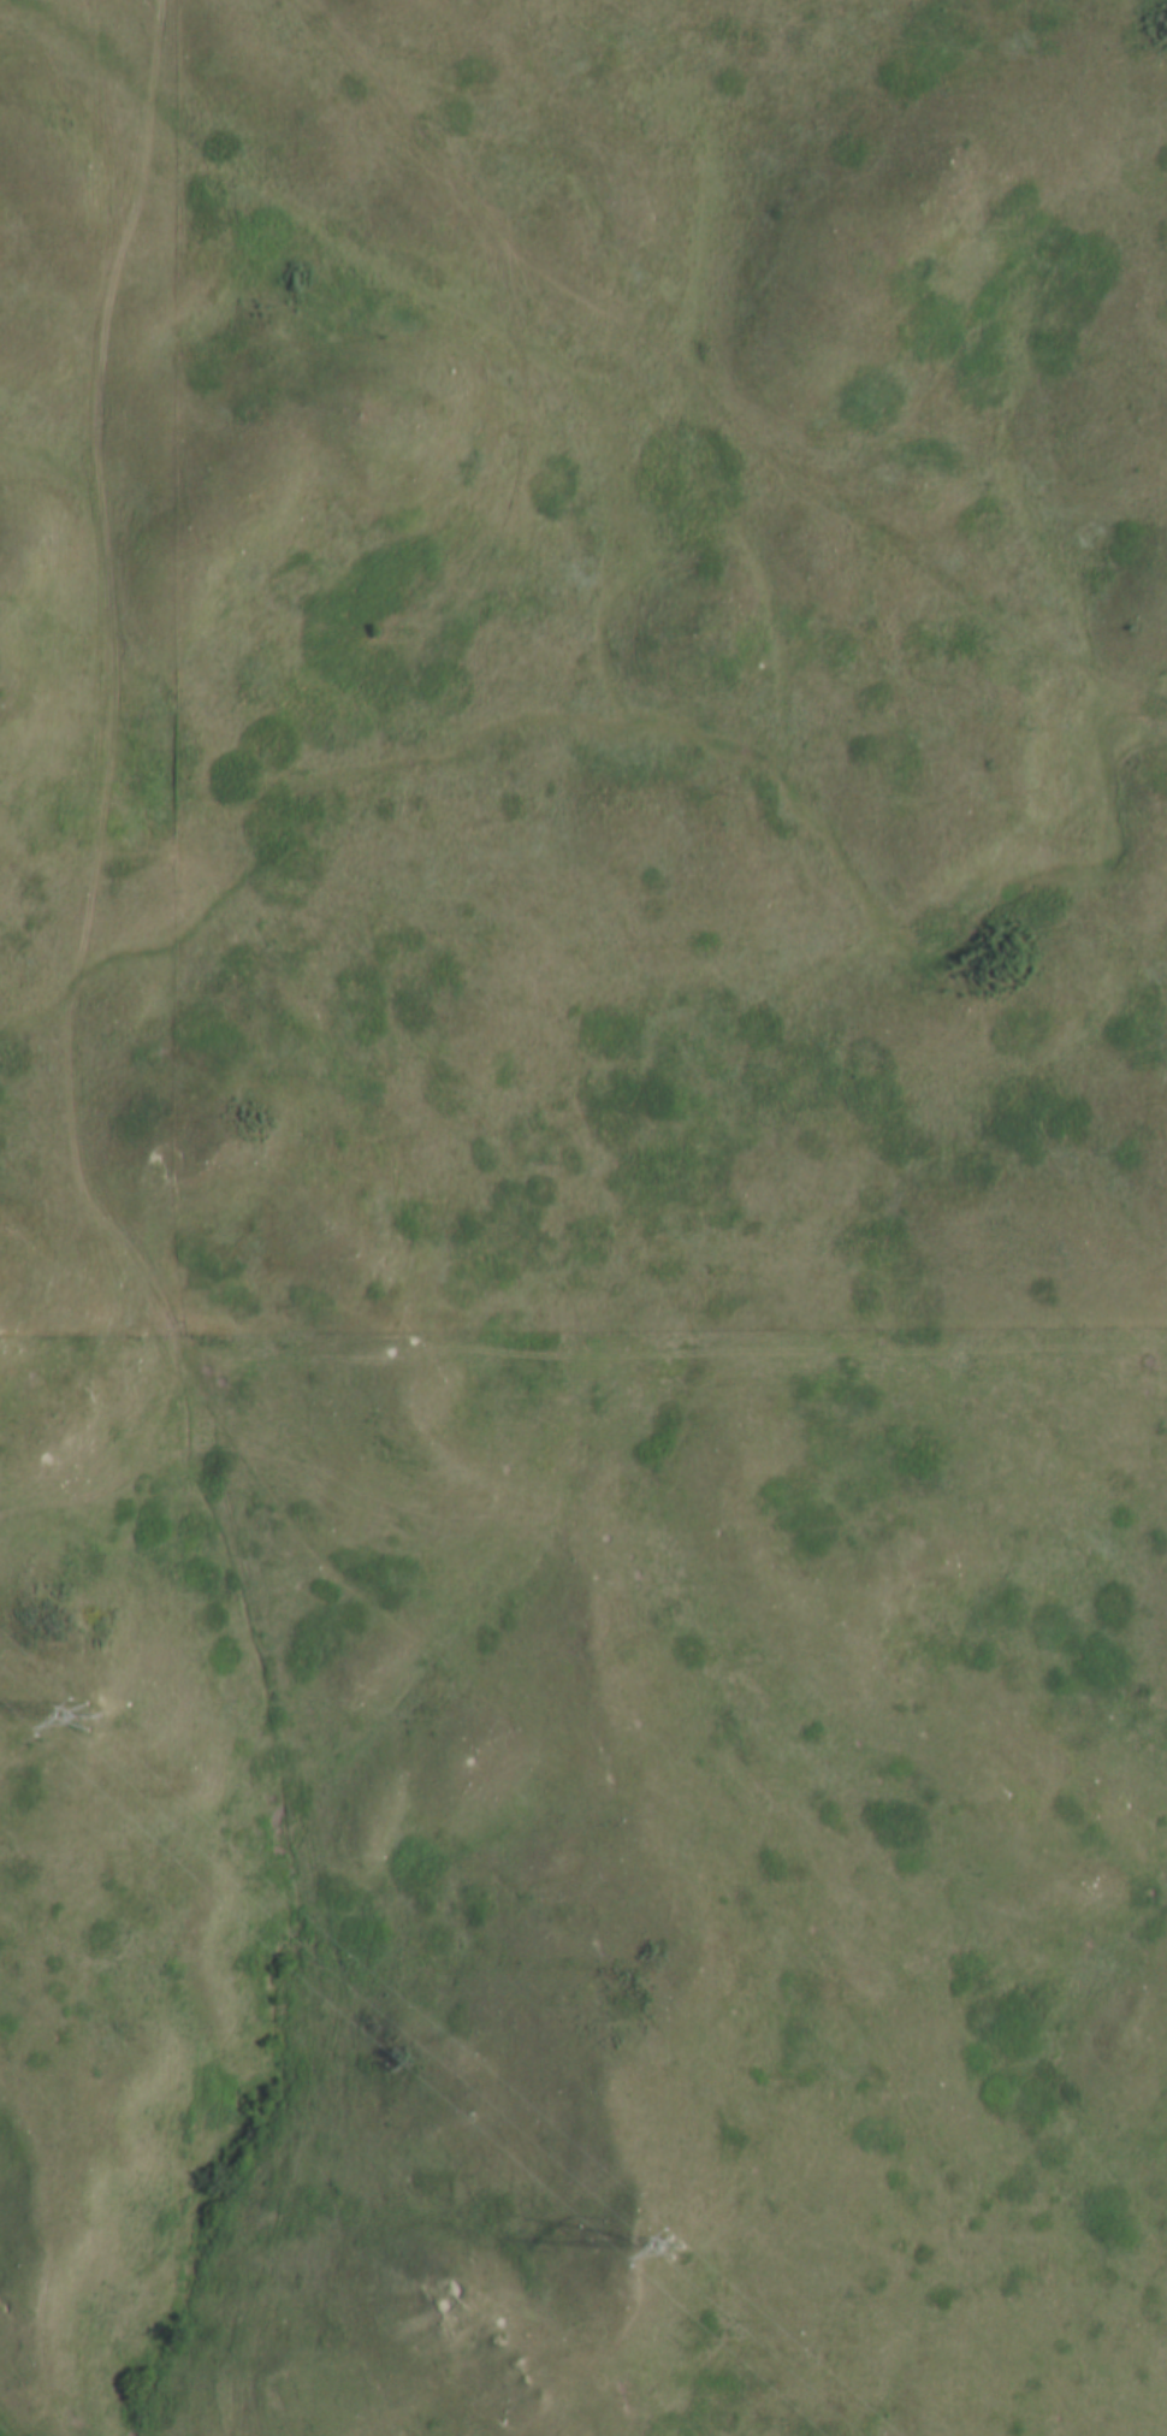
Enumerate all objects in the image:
power tower: (91, 1715)
power tower: (671, 2249)

